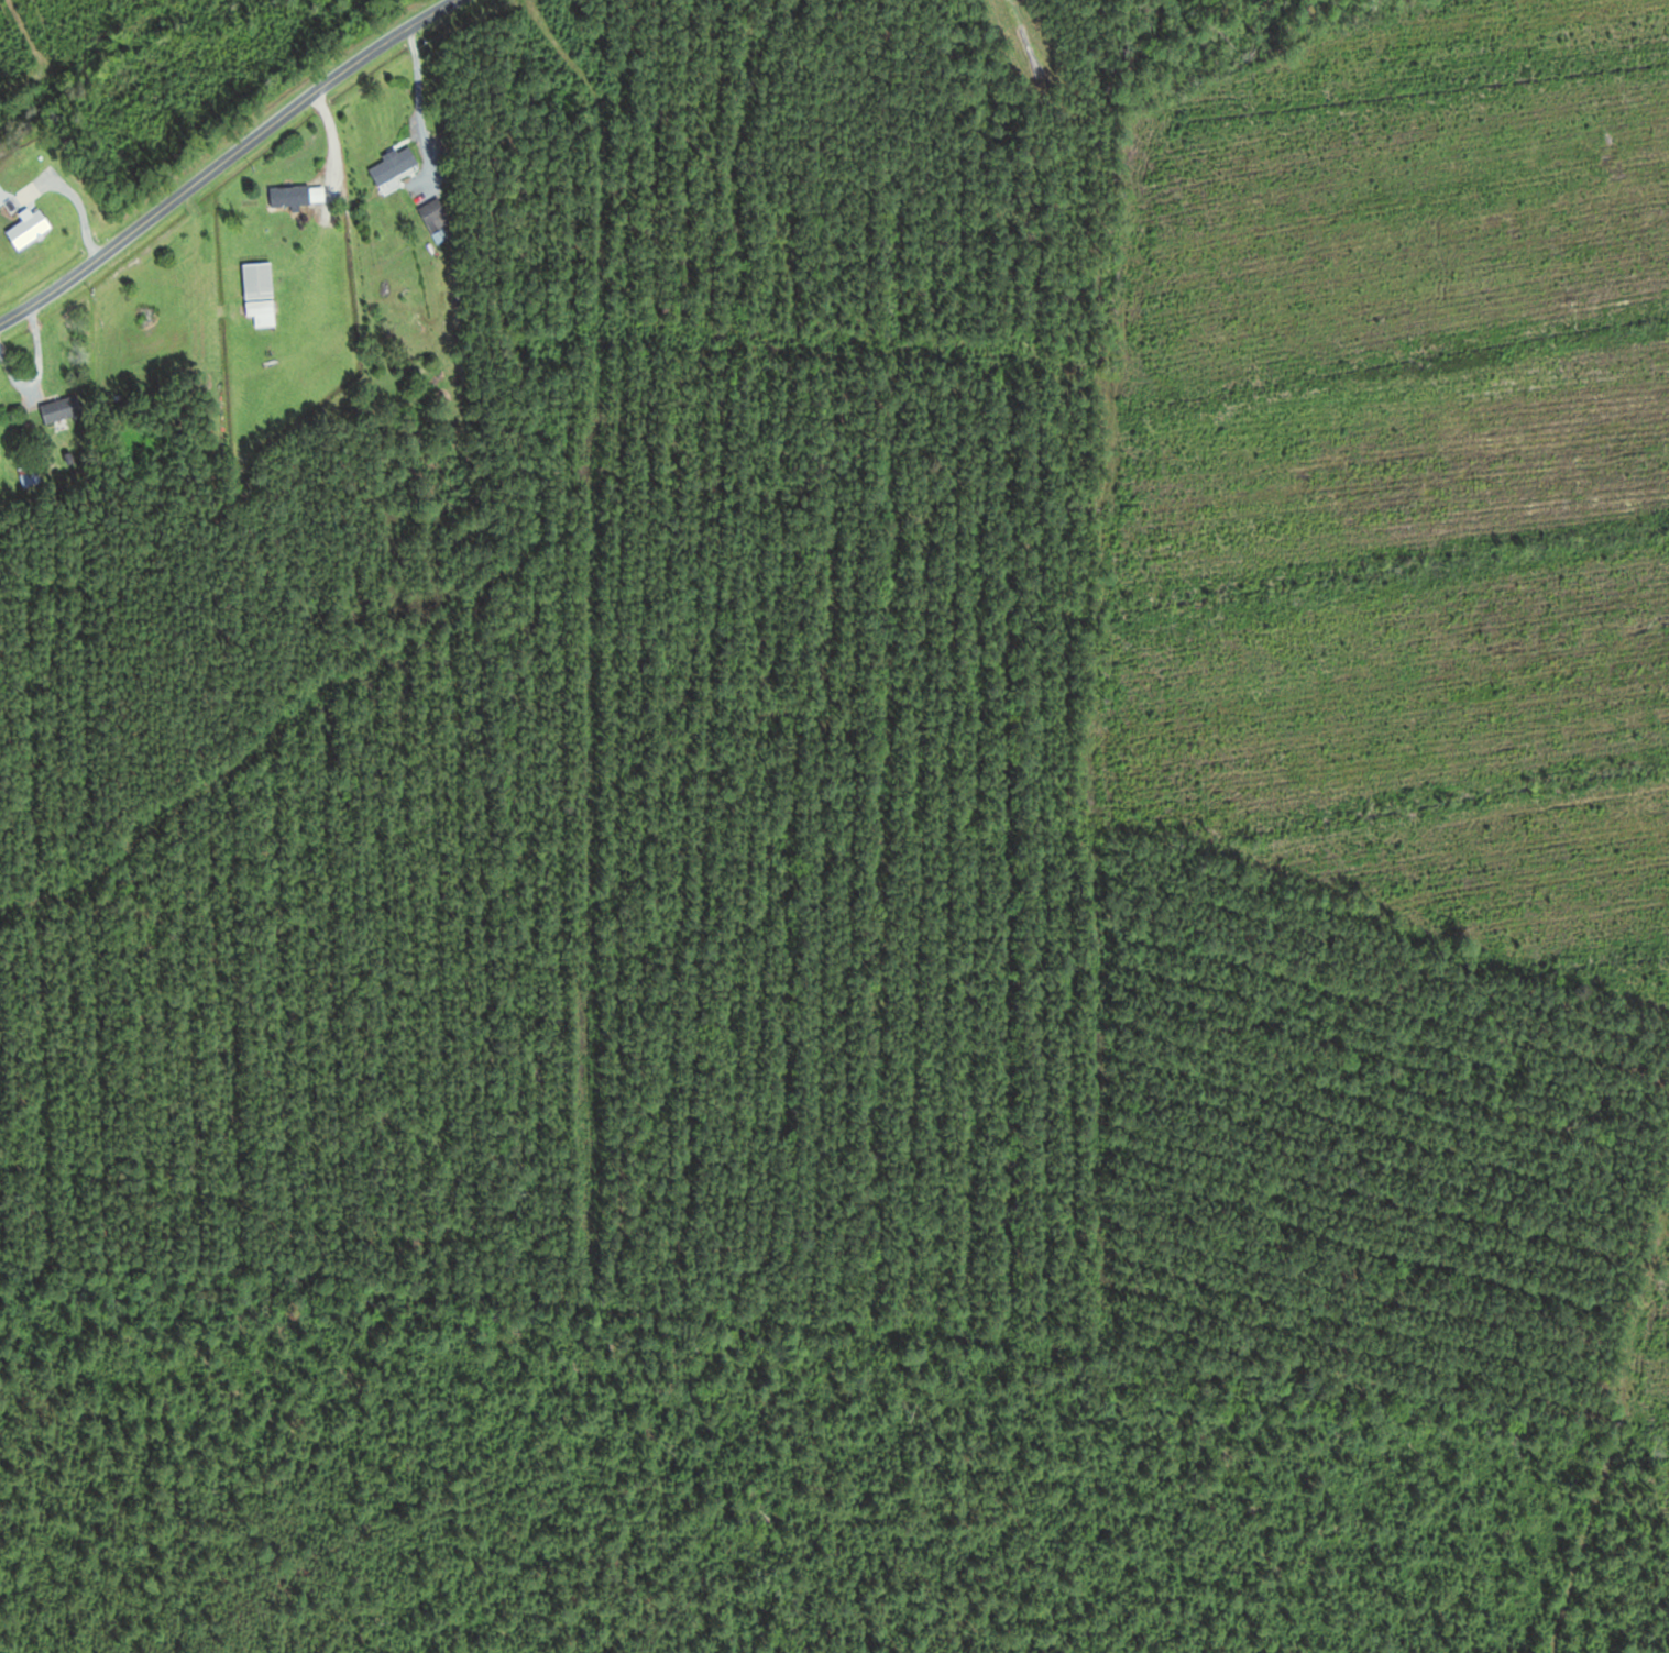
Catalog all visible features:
road: (1652, 45)
road: (332, 136)
road: (219, 159)
building: (396, 165)
building: (299, 195)
building: (438, 213)
building: (32, 228)
building: (261, 287)
building: (64, 408)
building: (31, 474)

